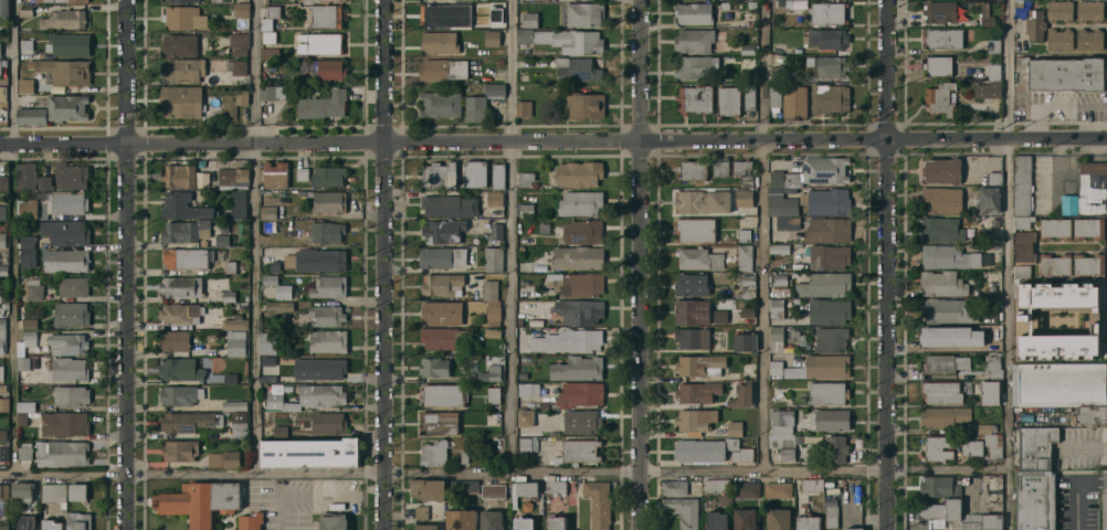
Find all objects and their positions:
building: (541, 0)
building: (62, 1)
building: (181, 1)
building: (721, 3)
building: (751, 3)
building: (4, 8)
building: (24, 10)
building: (242, 10)
building: (939, 10)
building: (1059, 10)
building: (1089, 10)
building: (693, 11)
building: (495, 12)
building: (583, 13)
building: (829, 13)
building: (985, 13)
building: (445, 14)
building: (325, 15)
building: (183, 17)
building: (270, 17)
building: (528, 18)
building: (748, 18)
building: (63, 19)
building: (1035, 24)
building: (969, 34)
building: (268, 35)
building: (942, 36)
building: (1058, 36)
building: (1089, 36)
building: (491, 38)
building: (565, 39)
building: (829, 39)
building: (694, 40)
building: (239, 41)
building: (439, 41)
building: (67, 42)
building: (319, 42)
building: (24, 44)
building: (992, 44)
building: (179, 45)
building: (748, 47)
building: (1059, 47)
building: (270, 51)
building: (499, 60)
building: (937, 64)
building: (235, 65)
building: (832, 65)
building: (0, 66)
building: (325, 66)
building: (694, 66)
building: (442, 68)
building: (577, 68)
building: (66, 70)
building: (180, 70)
building: (993, 71)
road: (1008, 71)
building: (1065, 71)
building: (777, 73)
building: (523, 77)
building: (22, 85)
building: (987, 87)
building: (493, 89)
building: (2, 92)
building: (272, 92)
building: (773, 93)
building: (241, 95)
building: (748, 95)
building: (694, 96)
building: (829, 96)
building: (938, 97)
building: (180, 99)
building: (727, 99)
building: (794, 100)
building: (440, 102)
building: (321, 103)
building: (582, 103)
building: (66, 105)
building: (474, 106)
building: (523, 107)
building: (31, 114)
road: (1057, 142)
road: (504, 144)
building: (719, 165)
building: (740, 165)
building: (1093, 166)
building: (690, 168)
building: (824, 168)
building: (941, 168)
building: (474, 171)
building: (274, 172)
building: (301, 172)
building: (439, 172)
building: (577, 172)
building: (25, 173)
building: (178, 173)
building: (232, 174)
building: (327, 174)
building: (497, 174)
building: (65, 176)
building: (525, 177)
building: (776, 177)
building: (993, 177)
building: (746, 180)
building: (3, 181)
building: (202, 181)
building: (534, 182)
building: (1022, 183)
building: (236, 195)
building: (744, 197)
building: (494, 198)
building: (941, 198)
building: (988, 198)
building: (825, 199)
building: (67, 200)
building: (328, 200)
building: (700, 200)
building: (579, 201)
building: (782, 201)
building: (1068, 202)
building: (447, 204)
building: (182, 205)
building: (30, 208)
building: (236, 209)
building: (525, 209)
building: (267, 210)
building: (2, 211)
building: (974, 218)
building: (1021, 220)
building: (788, 222)
building: (270, 224)
building: (940, 226)
building: (1054, 226)
building: (1087, 226)
building: (695, 227)
building: (184, 229)
building: (442, 229)
building: (827, 229)
building: (325, 230)
building: (581, 230)
building: (64, 231)
building: (493, 232)
building: (742, 233)
road: (512, 236)
road: (762, 236)
road: (13, 237)
building: (221, 237)
road: (254, 237)
building: (2, 239)
building: (25, 240)
building: (1023, 244)
building: (778, 247)
building: (440, 255)
building: (829, 255)
building: (947, 255)
building: (27, 256)
building: (187, 256)
building: (576, 256)
building: (697, 256)
building: (744, 256)
building: (492, 257)
building: (64, 258)
building: (316, 258)
building: (1054, 262)
building: (1088, 262)
road: (124, 265)
building: (229, 265)
road: (380, 265)
road: (640, 265)
road: (885, 265)
building: (3, 268)
building: (1021, 269)
building: (779, 276)
building: (553, 279)
building: (695, 282)
building: (941, 282)
building: (443, 283)
building: (824, 283)
building: (581, 284)
building: (747, 284)
building: (777, 284)
building: (72, 285)
building: (180, 285)
building: (276, 285)
building: (328, 285)
building: (990, 287)
building: (489, 288)
building: (34, 290)
building: (1, 294)
building: (226, 294)
building: (969, 297)
building: (1054, 298)
building: (3, 305)
building: (278, 305)
building: (774, 307)
building: (946, 309)
building: (579, 310)
building: (690, 310)
building: (827, 310)
building: (70, 311)
building: (178, 311)
building: (441, 311)
building: (492, 312)
building: (326, 314)
building: (747, 314)
building: (719, 316)
building: (519, 319)
building: (29, 322)
building: (234, 322)
building: (2, 324)
building: (535, 328)
building: (492, 330)
building: (793, 333)
building: (690, 336)
building: (937, 336)
road: (1008, 336)
building: (441, 337)
building: (830, 337)
building: (568, 338)
building: (776, 338)
building: (175, 339)
building: (328, 339)
building: (1, 340)
building: (744, 340)
building: (24, 341)
building: (235, 341)
building: (266, 341)
building: (66, 342)
building: (1058, 346)
building: (523, 359)
building: (266, 360)
building: (22, 362)
building: (943, 362)
building: (698, 363)
building: (825, 363)
building: (993, 364)
building: (433, 365)
building: (774, 365)
building: (318, 367)
building: (576, 367)
building: (68, 368)
building: (179, 368)
building: (748, 368)
building: (491, 370)
building: (1, 371)
building: (793, 372)
building: (524, 373)
building: (229, 377)
building: (262, 377)
building: (1058, 382)
building: (0, 386)
building: (527, 388)
building: (697, 390)
building: (989, 390)
building: (827, 391)
building: (941, 391)
building: (178, 393)
building: (442, 393)
building: (493, 393)
building: (579, 393)
building: (70, 394)
building: (742, 394)
building: (307, 395)
building: (3, 402)
building: (233, 404)
building: (553, 404)
building: (25, 405)
building: (943, 414)
building: (1088, 414)
building: (242, 415)
building: (525, 416)
building: (20, 417)
building: (696, 417)
building: (830, 417)
building: (189, 420)
building: (581, 420)
building: (780, 420)
building: (328, 421)
building: (437, 421)
building: (63, 423)
building: (238, 426)
building: (734, 427)
building: (987, 427)
building: (266, 428)
building: (280, 430)
building: (2, 432)
building: (789, 441)
building: (993, 443)
building: (1036, 445)
building: (525, 446)
building: (937, 446)
building: (971, 446)
building: (835, 447)
building: (179, 448)
building: (699, 448)
building: (2, 449)
building: (24, 449)
building: (579, 449)
building: (309, 451)
building: (62, 452)
building: (432, 452)
building: (741, 453)
building: (788, 454)
building: (463, 455)
building: (223, 457)
road: (504, 474)
building: (812, 483)
building: (716, 484)
building: (461, 485)
building: (938, 485)
building: (555, 486)
building: (673, 486)
building: (991, 486)
building: (426, 487)
building: (745, 488)
building: (777, 488)
building: (3, 489)
building: (21, 489)
building: (493, 489)
building: (523, 489)
building: (76, 490)
building: (52, 491)
road: (333, 495)
building: (1034, 499)
building: (199, 500)
building: (598, 502)
building: (526, 504)
road: (277, 509)
building: (683, 510)
building: (420, 511)
building: (943, 511)
building: (830, 515)
building: (24, 517)
building: (461, 518)
building: (744, 518)
building: (778, 518)
building: (491, 519)
building: (716, 519)
building: (78, 520)
building: (250, 520)
building: (333, 520)
building: (556, 521)
building: (972, 521)
building: (991, 521)
building: (3, 522)
building: (523, 522)
building: (808, 522)
building: (50, 523)
building: (425, 526)
building: (854, 528)

